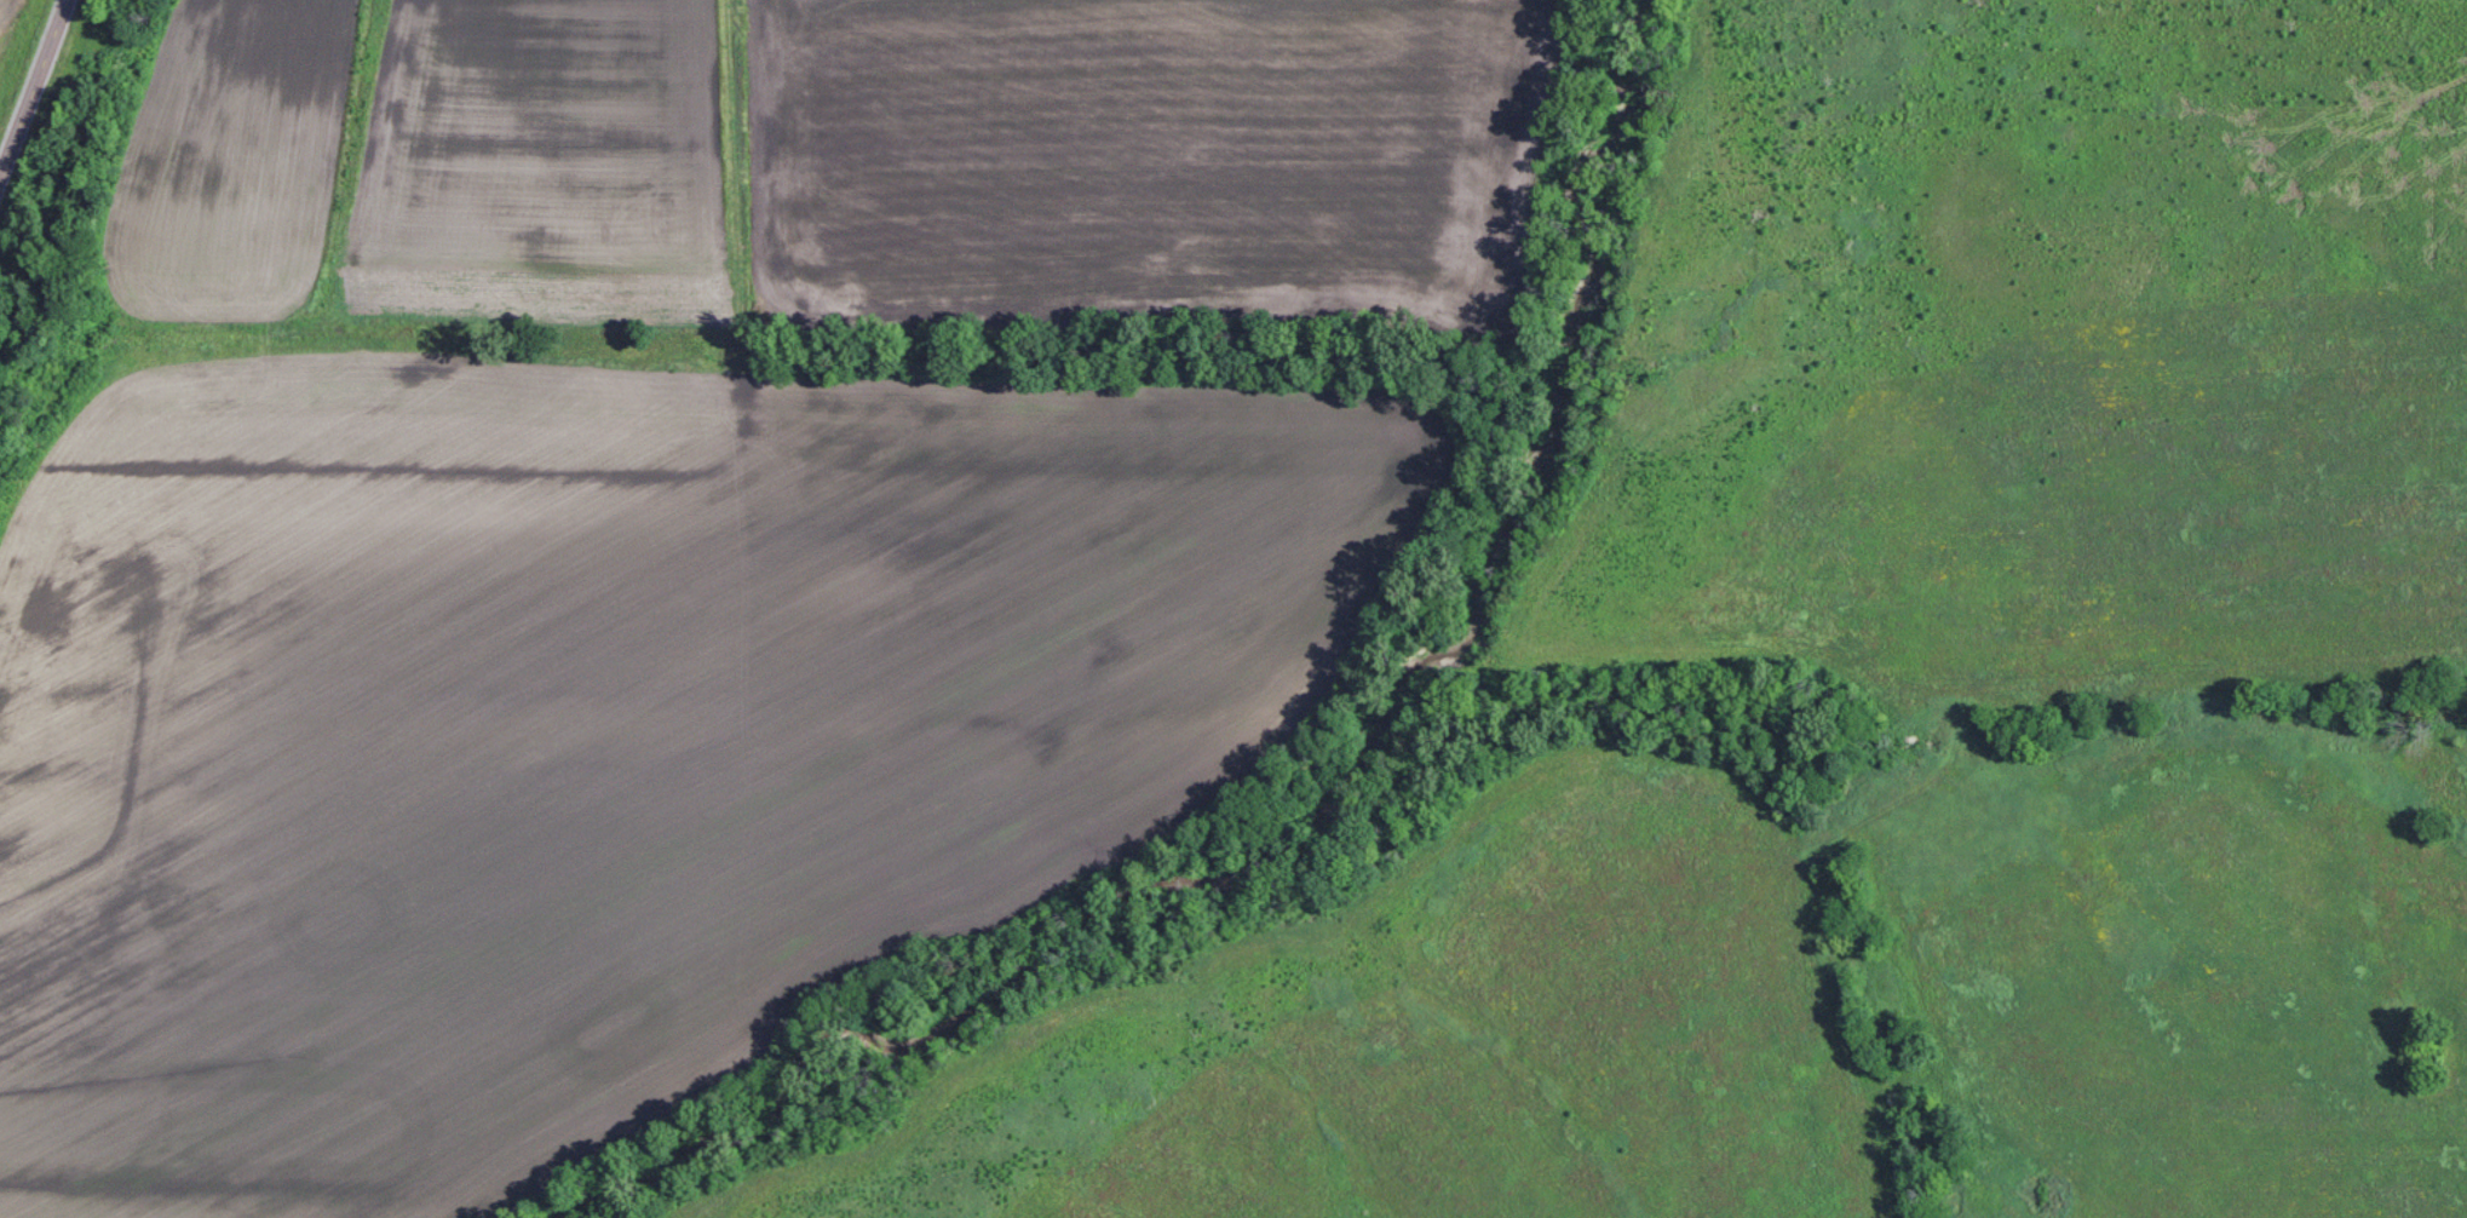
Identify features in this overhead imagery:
crop: (5, 15)
road: (31, 84)
crop: (551, 163)
crop: (1145, 163)
crop: (598, 731)

